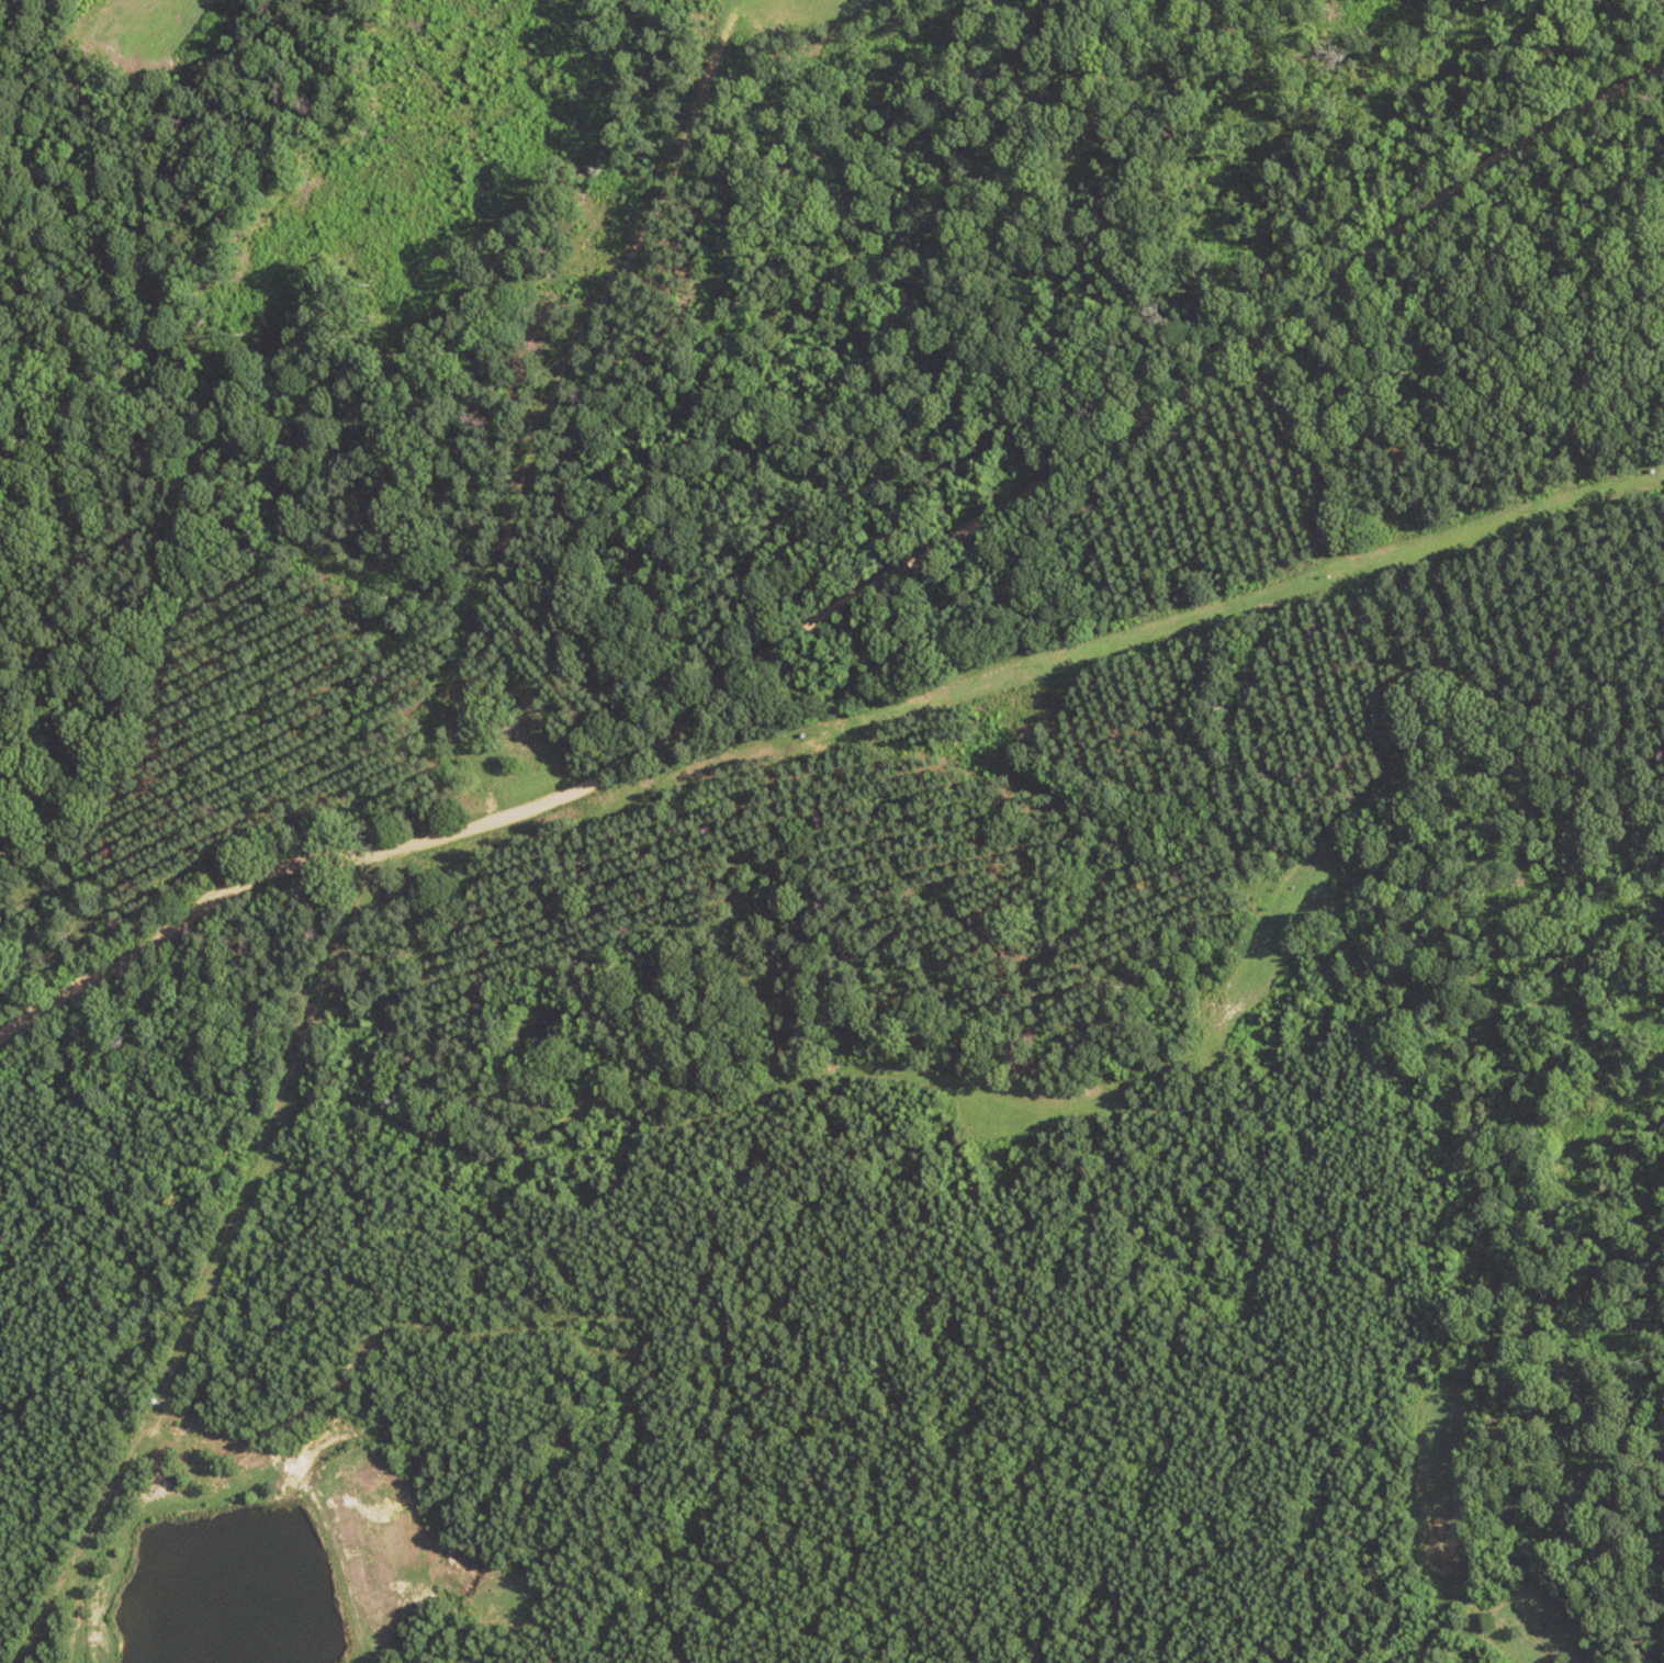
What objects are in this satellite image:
road: (857, 596)

